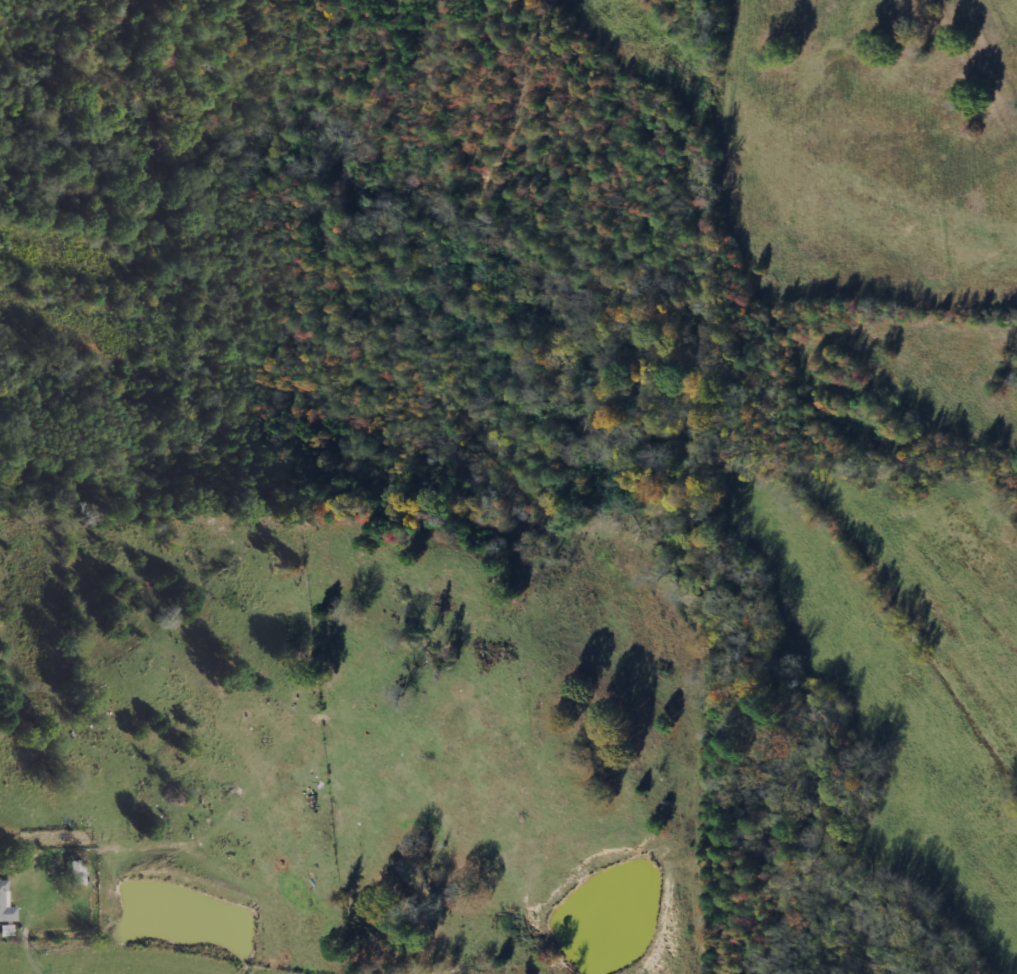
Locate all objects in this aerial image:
building: (5, 905)

